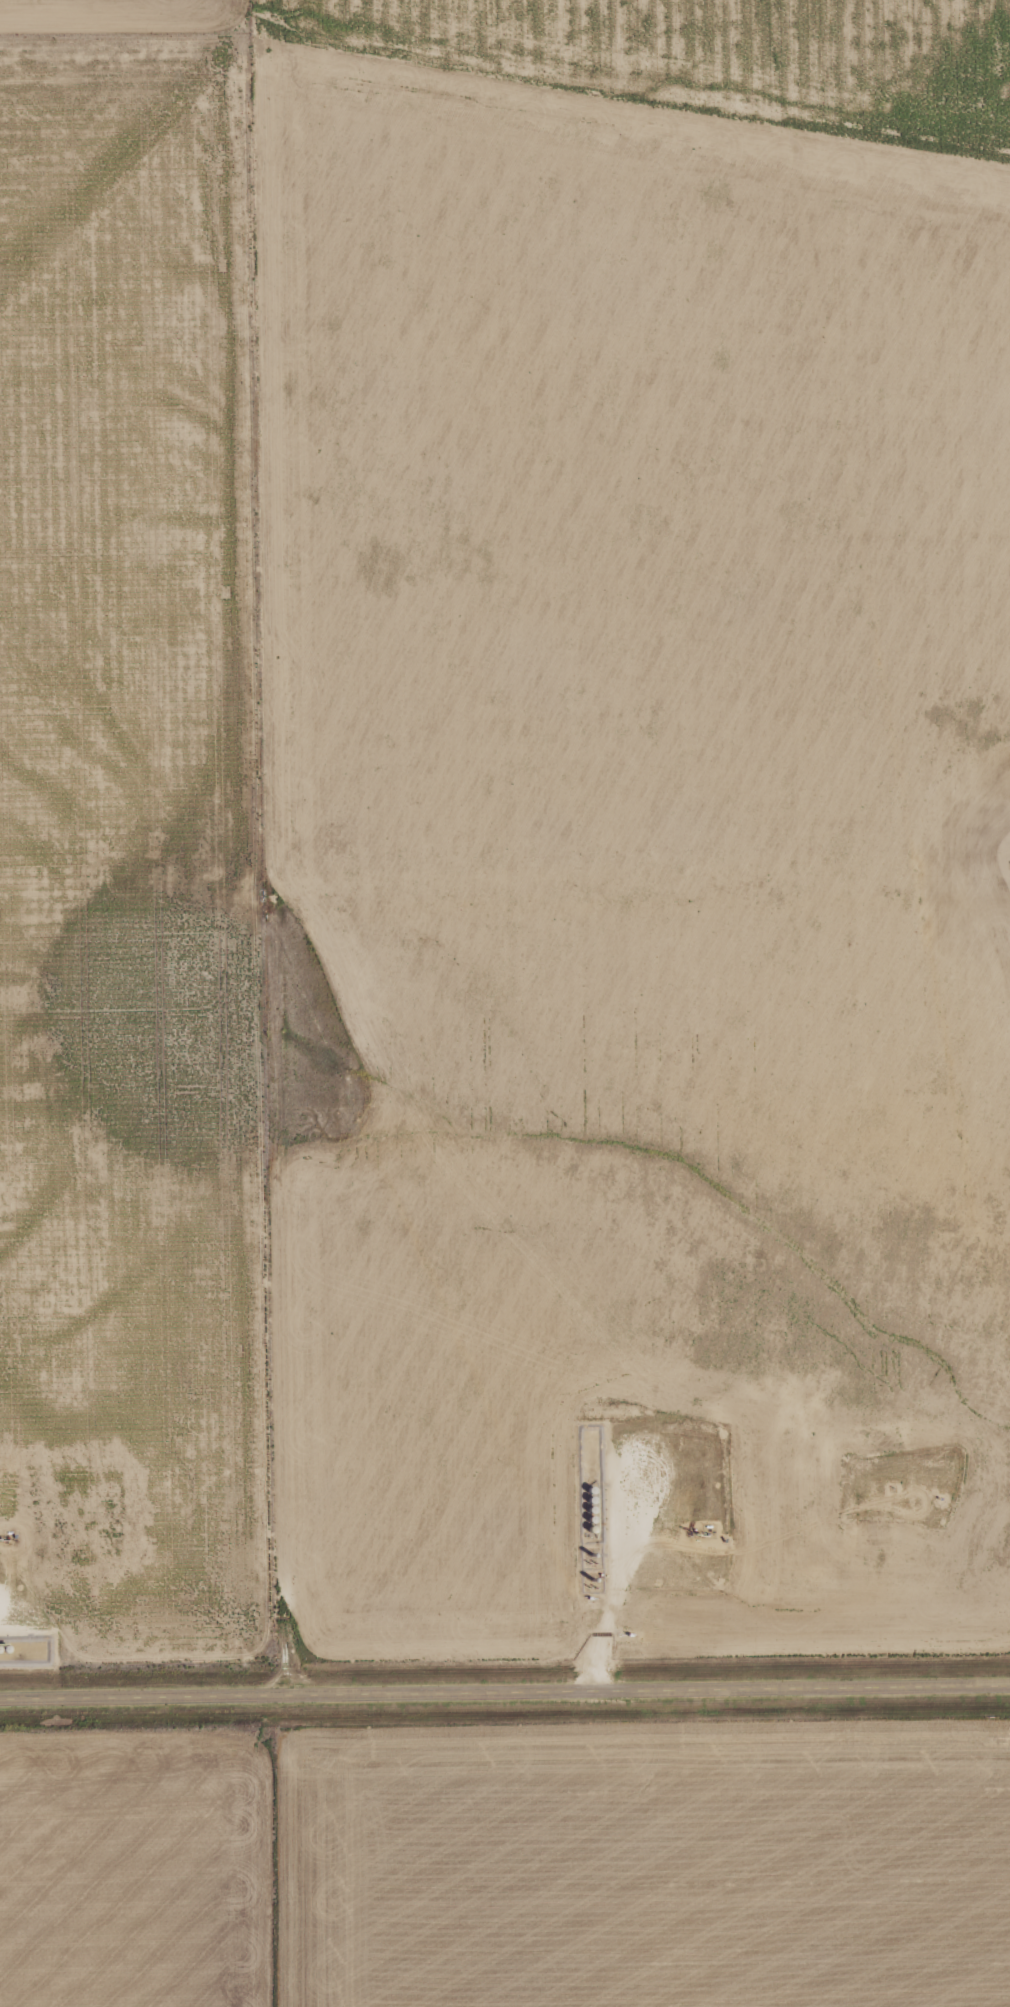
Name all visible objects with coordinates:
petroleum well: (695, 1524)
road: (505, 1695)

